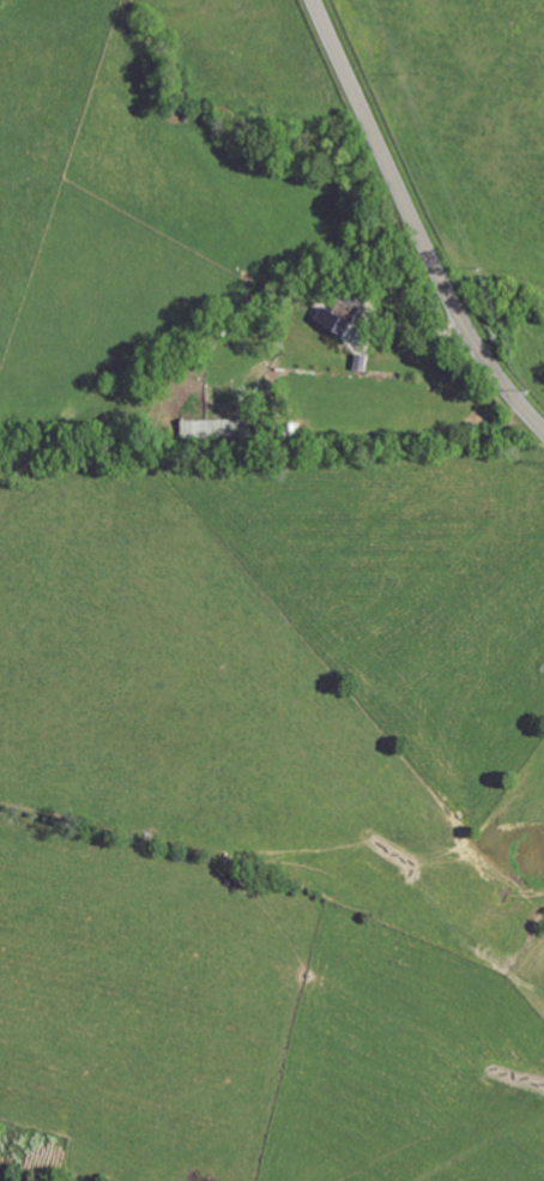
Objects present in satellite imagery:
road: (413, 224)
building: (337, 315)

